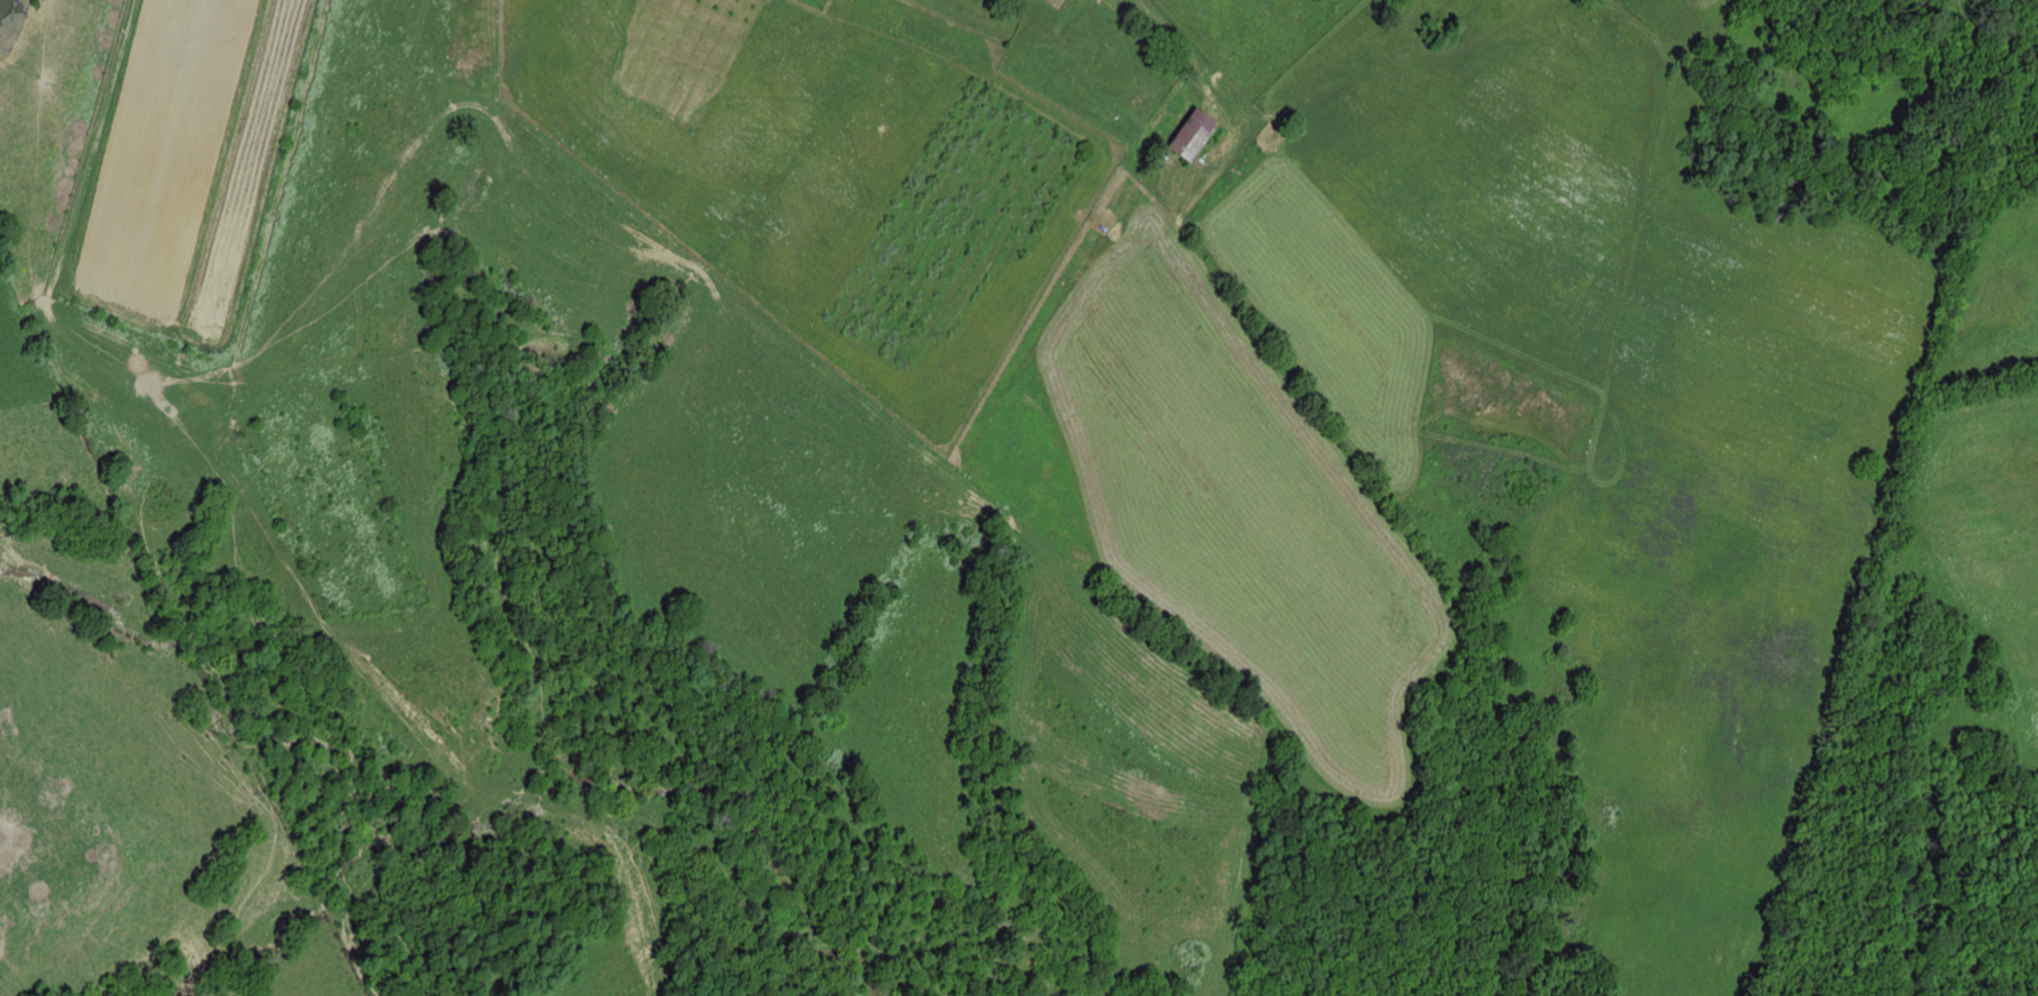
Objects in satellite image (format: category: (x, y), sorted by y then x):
building: (1194, 135)

